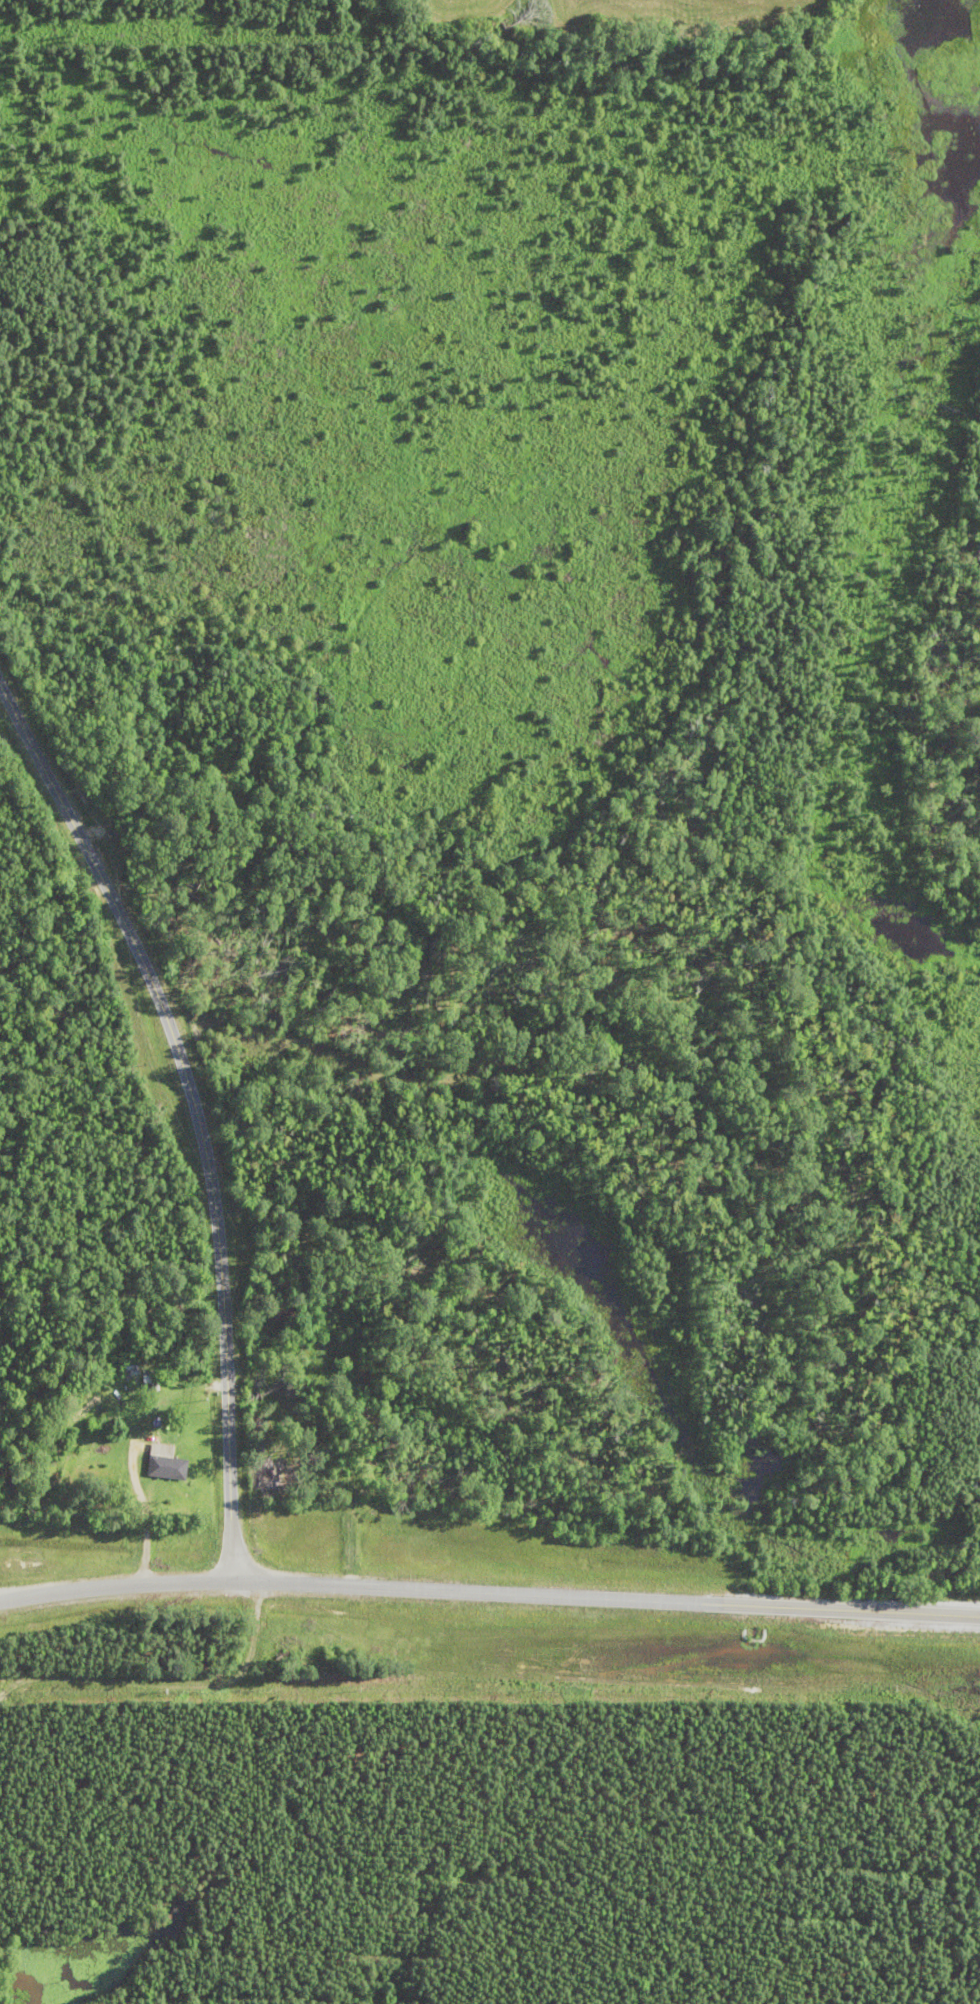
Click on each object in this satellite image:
road: (194, 1113)
building: (168, 1462)
building: (273, 1479)
road: (527, 1593)
road: (38, 1596)

